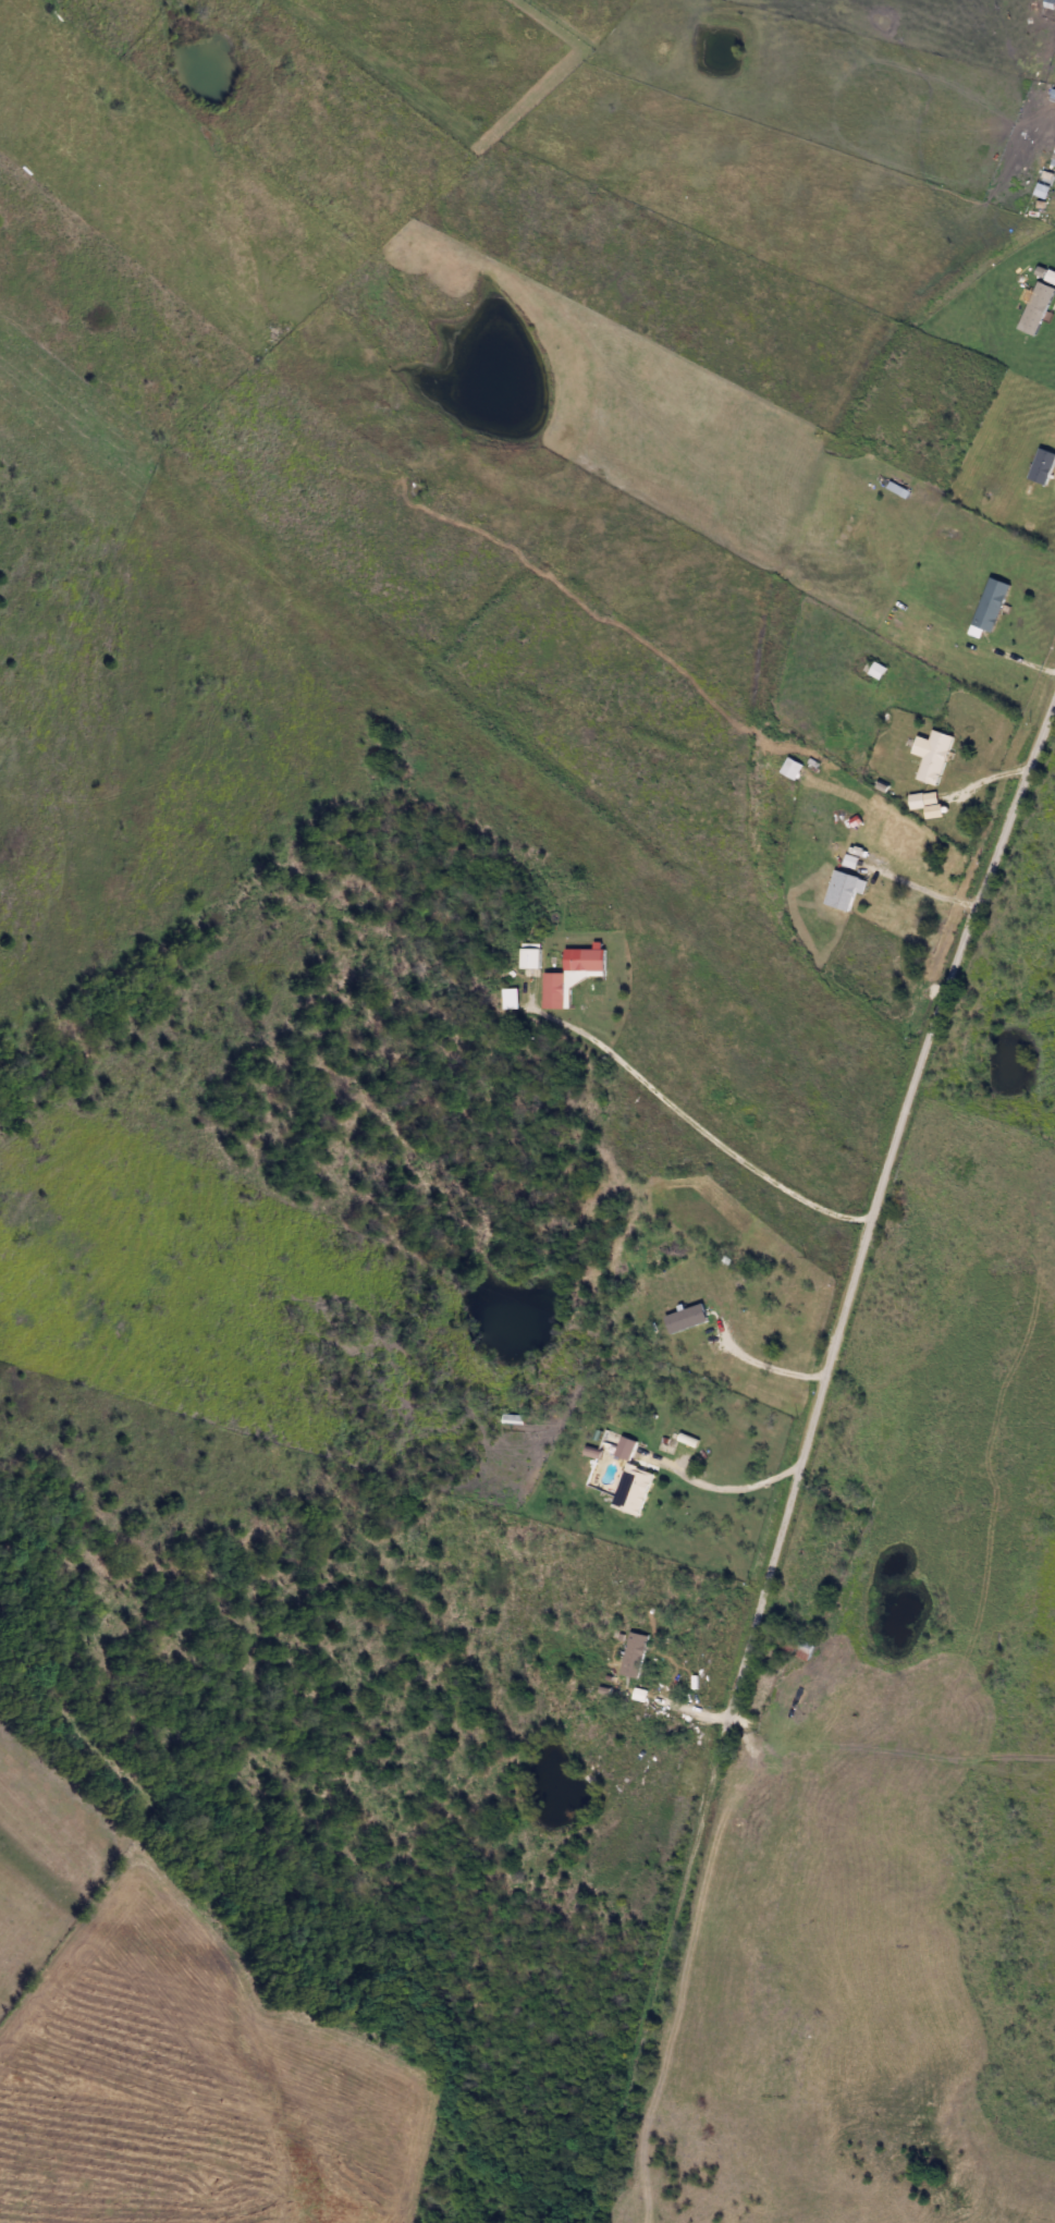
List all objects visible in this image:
building: (1039, 306)
building: (991, 604)
building: (933, 756)
building: (792, 769)
road: (927, 887)
building: (846, 891)
building: (532, 957)
building: (555, 991)
building: (512, 998)
road: (696, 1125)
building: (687, 1319)
road: (761, 1365)
building: (513, 1418)
road: (811, 1432)
building: (625, 1448)
road: (721, 1488)
building: (634, 1489)
building: (793, 1647)
building: (635, 1654)
road: (597, 2194)

